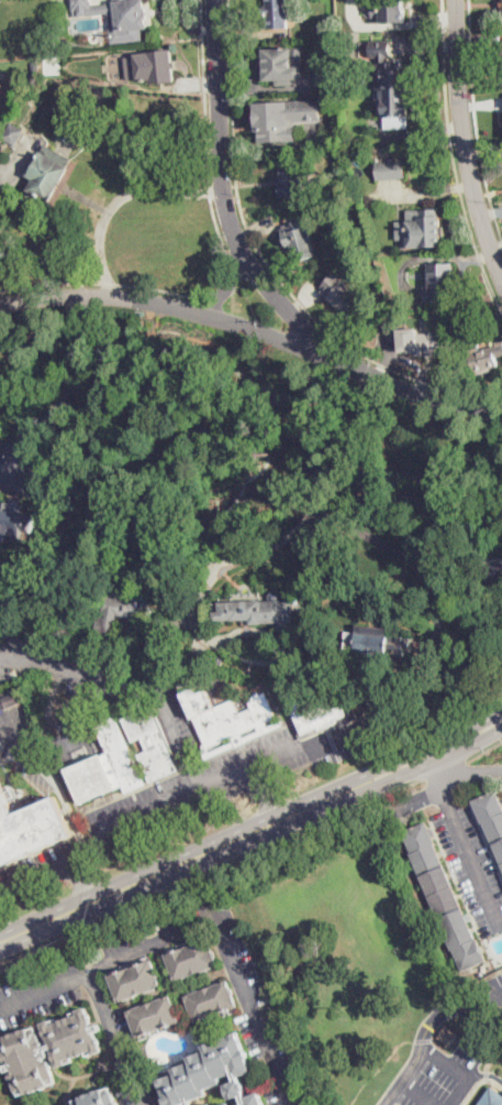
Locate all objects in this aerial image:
building: (388, 10)
building: (501, 12)
building: (277, 13)
building: (119, 15)
building: (54, 63)
building: (152, 65)
building: (285, 69)
building: (323, 76)
building: (391, 86)
building: (285, 117)
road: (476, 119)
building: (13, 133)
road: (464, 140)
road: (454, 158)
building: (390, 168)
building: (47, 172)
building: (355, 172)
building: (290, 179)
road: (224, 193)
road: (118, 198)
building: (372, 211)
building: (348, 218)
building: (420, 228)
building: (299, 239)
road: (226, 253)
road: (270, 267)
building: (439, 282)
road: (228, 287)
building: (347, 297)
road: (256, 328)
building: (431, 341)
building: (480, 359)
road: (62, 400)
road: (317, 429)
building: (12, 524)
road: (405, 552)
building: (493, 571)
building: (122, 610)
building: (258, 612)
road: (194, 614)
building: (464, 616)
building: (380, 643)
building: (160, 647)
building: (266, 656)
road: (3, 658)
building: (216, 661)
building: (110, 666)
building: (219, 681)
road: (131, 685)
building: (13, 699)
building: (2, 702)
building: (316, 718)
building: (230, 721)
road: (12, 729)
road: (435, 742)
road: (484, 752)
building: (125, 757)
road: (438, 757)
road: (444, 768)
road: (435, 773)
road: (449, 780)
road: (186, 792)
road: (264, 794)
road: (62, 795)
building: (25, 801)
building: (491, 818)
building: (30, 828)
road: (471, 856)
road: (186, 858)
parking lot: (471, 864)
road: (211, 869)
road: (83, 880)
building: (444, 896)
road: (180, 929)
building: (192, 960)
building: (136, 982)
road: (45, 986)
parking lot: (492, 988)
parking lot: (37, 992)
building: (212, 1000)
road: (497, 1005)
parking lot: (498, 1007)
road: (497, 1008)
building: (154, 1017)
building: (448, 1035)
road: (427, 1037)
building: (49, 1049)
building: (147, 1053)
parking lot: (129, 1061)
road: (459, 1074)
building: (212, 1076)
parking lot: (443, 1079)
road: (417, 1094)
building: (492, 1097)
building: (99, 1098)
road: (0, 1104)

